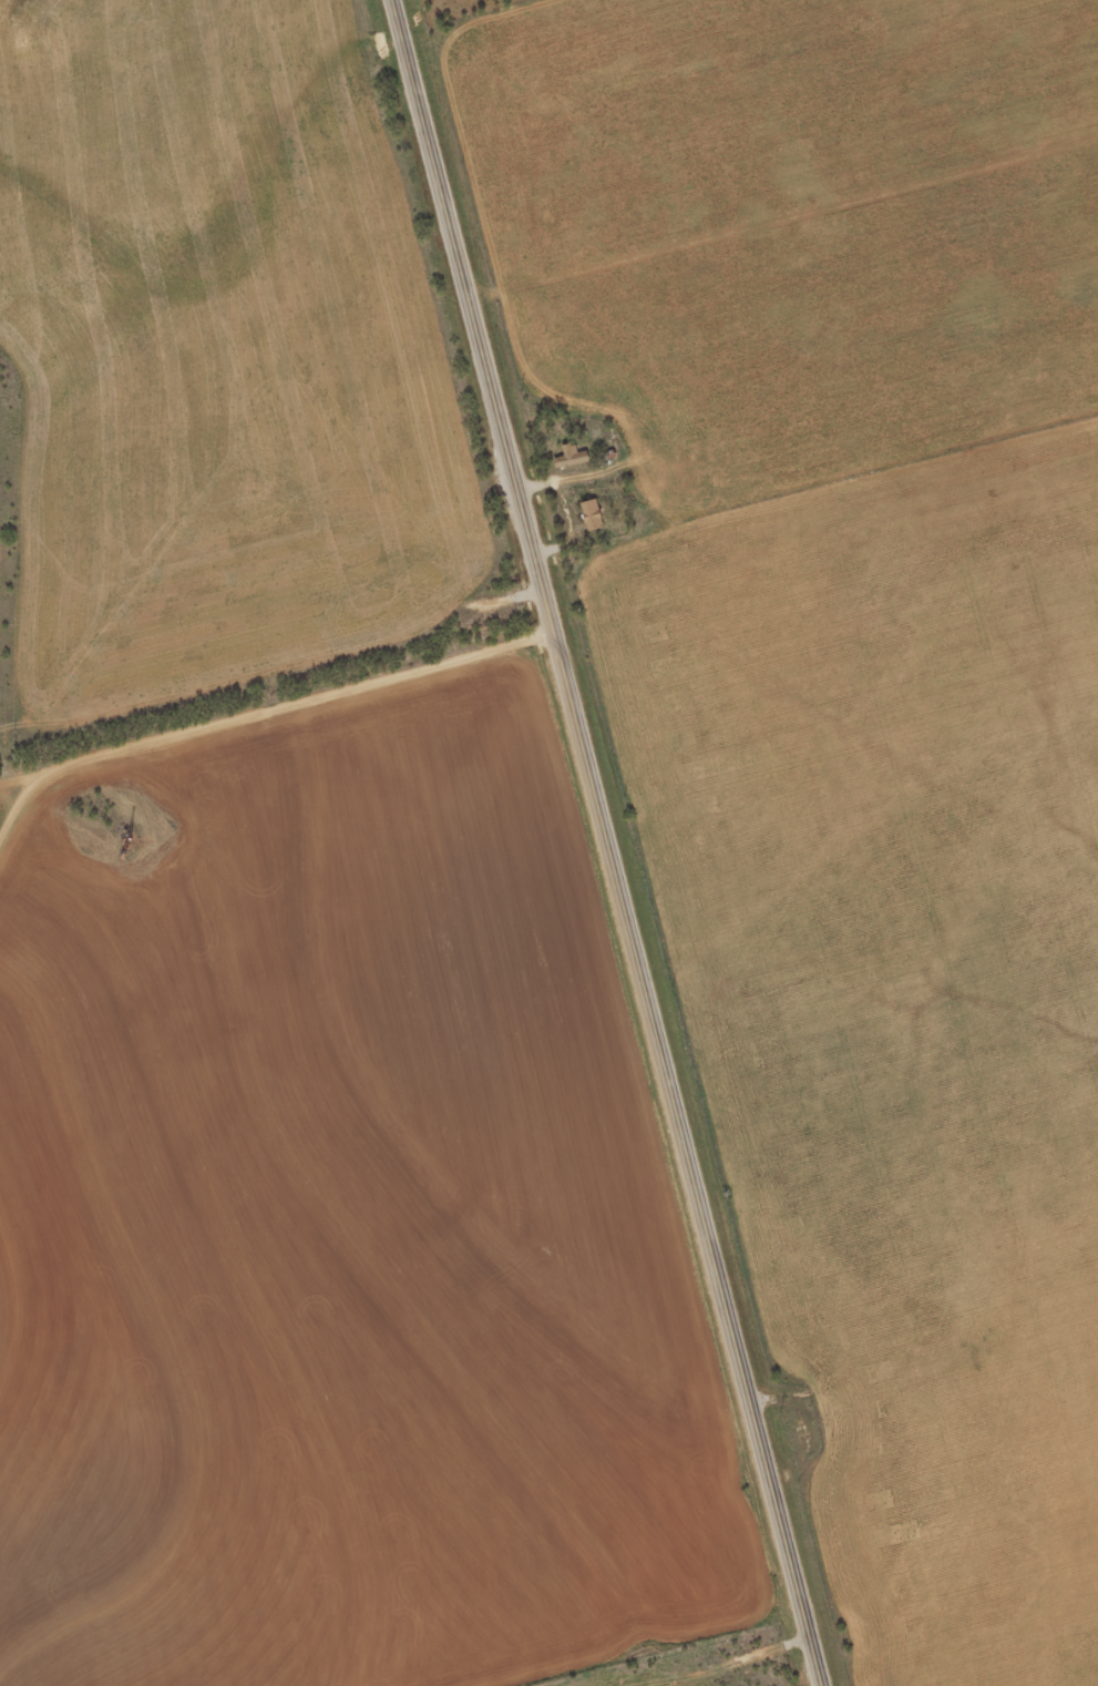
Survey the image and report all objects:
road: (595, 841)

